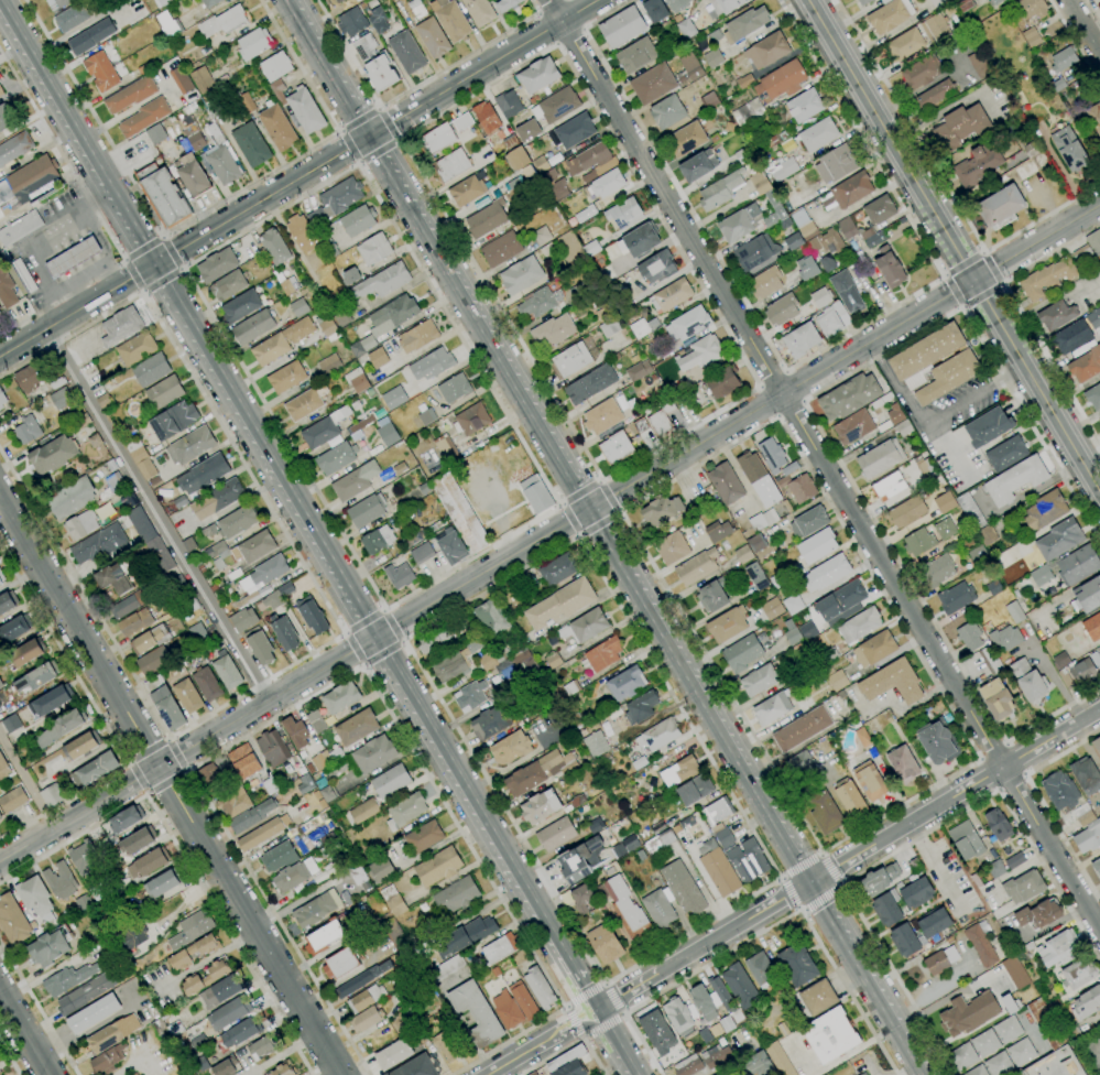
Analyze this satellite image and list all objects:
building: (339, 1)
building: (884, 1)
building: (162, 2)
building: (864, 2)
building: (936, 2)
building: (993, 2)
building: (57, 3)
building: (210, 3)
building: (508, 4)
building: (677, 4)
building: (965, 4)
building: (134, 6)
road: (533, 6)
building: (727, 6)
road: (551, 7)
building: (417, 8)
building: (1033, 8)
building: (655, 10)
building: (479, 11)
road: (1092, 12)
road: (538, 13)
road: (573, 14)
building: (890, 15)
building: (72, 18)
building: (450, 20)
building: (378, 21)
building: (224, 22)
building: (352, 22)
road: (312, 24)
building: (745, 24)
building: (168, 25)
road: (1083, 25)
building: (622, 26)
road: (548, 28)
building: (686, 29)
building: (935, 29)
road: (582, 30)
building: (958, 30)
building: (716, 35)
building: (92, 36)
road: (569, 36)
building: (433, 37)
building: (1032, 37)
building: (253, 43)
road: (1074, 43)
road: (557, 44)
building: (905, 44)
building: (767, 51)
building: (407, 52)
building: (636, 55)
building: (714, 57)
building: (1064, 58)
road: (325, 59)
building: (980, 64)
building: (374, 65)
building: (690, 65)
building: (275, 66)
building: (146, 67)
road: (322, 68)
road: (481, 68)
building: (101, 72)
building: (922, 72)
building: (537, 75)
road: (44, 76)
road: (350, 76)
building: (181, 79)
building: (203, 79)
building: (781, 80)
building: (745, 82)
road: (35, 84)
building: (653, 84)
building: (1058, 85)
building: (1, 91)
road: (404, 93)
building: (131, 95)
building: (934, 95)
building: (709, 100)
building: (247, 102)
building: (508, 104)
building: (215, 106)
building: (301, 106)
building: (556, 106)
building: (804, 106)
building: (189, 108)
road: (378, 109)
building: (748, 111)
building: (667, 112)
building: (1094, 116)
road: (94, 117)
building: (144, 117)
building: (6, 118)
building: (487, 118)
road: (358, 120)
building: (462, 122)
road: (385, 124)
building: (277, 127)
building: (960, 127)
traffic signals: (380, 128)
road: (381, 129)
building: (575, 130)
building: (190, 131)
road: (339, 131)
building: (156, 134)
building: (818, 134)
traffic signals: (363, 137)
building: (715, 138)
building: (437, 139)
building: (687, 139)
building: (775, 139)
road: (397, 140)
building: (511, 142)
building: (251, 144)
road: (315, 144)
road: (350, 145)
building: (1030, 146)
building: (14, 148)
road: (80, 148)
building: (1070, 149)
road: (377, 150)
building: (743, 154)
building: (520, 161)
road: (379, 162)
building: (224, 163)
road: (358, 163)
building: (590, 163)
building: (541, 164)
building: (836, 164)
building: (451, 165)
building: (698, 166)
building: (977, 166)
building: (785, 170)
road: (101, 172)
building: (192, 172)
road: (407, 174)
building: (548, 176)
building: (760, 183)
road: (944, 183)
building: (26, 184)
building: (608, 184)
building: (469, 189)
building: (557, 189)
building: (721, 189)
building: (851, 189)
road: (404, 193)
building: (342, 195)
building: (163, 196)
building: (793, 202)
building: (1001, 207)
road: (123, 209)
building: (880, 210)
building: (624, 213)
building: (586, 214)
building: (775, 216)
road: (97, 218)
building: (317, 218)
building: (488, 218)
building: (358, 220)
road: (110, 224)
building: (740, 224)
building: (785, 224)
building: (804, 225)
building: (20, 228)
building: (848, 228)
building: (302, 234)
building: (867, 234)
building: (542, 235)
road: (162, 236)
building: (875, 239)
building: (640, 240)
building: (794, 241)
building: (831, 241)
building: (1093, 241)
road: (43, 243)
road: (144, 243)
building: (328, 243)
road: (182, 246)
building: (813, 246)
road: (955, 246)
building: (274, 247)
road: (143, 248)
building: (373, 249)
building: (501, 249)
building: (591, 249)
building: (755, 252)
road: (982, 252)
road: (171, 253)
building: (1082, 254)
building: (73, 258)
gas station: (73, 258)
road: (123, 259)
traffic signals: (154, 262)
building: (827, 263)
building: (259, 264)
road: (962, 264)
building: (217, 265)
building: (657, 267)
building: (807, 268)
building: (890, 268)
road: (989, 268)
road: (181, 269)
road: (139, 271)
traffic signals: (140, 272)
road: (132, 274)
road: (943, 274)
building: (22, 275)
building: (522, 275)
building: (350, 276)
building: (1047, 278)
road: (161, 279)
traffic signals: (976, 280)
building: (382, 281)
street lamp: (90, 282)
building: (765, 282)
road: (1001, 283)
building: (228, 285)
building: (286, 287)
building: (6, 290)
road: (954, 290)
road: (142, 291)
building: (577, 292)
building: (847, 292)
road: (981, 293)
building: (671, 295)
building: (821, 297)
building: (538, 302)
building: (240, 306)
road: (962, 306)
building: (299, 307)
building: (782, 310)
building: (643, 312)
building: (0, 314)
building: (393, 315)
building: (601, 315)
road: (1022, 315)
building: (1056, 315)
road: (484, 316)
building: (342, 317)
building: (1094, 318)
building: (831, 319)
building: (688, 324)
building: (326, 325)
building: (121, 326)
building: (254, 327)
building: (610, 327)
building: (643, 327)
road: (172, 328)
building: (553, 332)
building: (334, 336)
building: (418, 336)
building: (1070, 337)
building: (801, 340)
building: (282, 341)
building: (362, 346)
building: (137, 348)
road: (489, 350)
building: (664, 350)
road: (202, 351)
building: (701, 352)
road: (79, 354)
road: (806, 356)
building: (377, 358)
building: (571, 360)
building: (935, 363)
building: (329, 365)
building: (433, 365)
building: (1086, 365)
building: (151, 370)
road: (785, 370)
building: (638, 371)
building: (287, 377)
building: (29, 378)
road: (773, 379)
building: (357, 380)
building: (57, 382)
building: (723, 382)
road: (754, 383)
building: (591, 384)
road: (758, 386)
road: (792, 387)
building: (454, 388)
building: (164, 392)
building: (849, 397)
building: (1093, 397)
building: (394, 398)
building: (61, 399)
building: (104, 399)
building: (2, 400)
road: (769, 400)
road: (802, 401)
building: (881, 401)
building: (306, 402)
building: (356, 405)
road: (788, 406)
building: (895, 414)
road: (777, 415)
building: (427, 416)
building: (602, 416)
building: (662, 419)
building: (471, 420)
building: (83, 421)
building: (173, 421)
road: (738, 421)
road: (933, 421)
road: (815, 422)
building: (1099, 422)
building: (361, 424)
building: (640, 425)
building: (884, 426)
building: (853, 427)
building: (988, 427)
building: (904, 428)
building: (26, 430)
building: (322, 431)
building: (126, 432)
road: (255, 432)
building: (388, 434)
building: (95, 441)
building: (190, 445)
road: (553, 445)
building: (445, 446)
building: (617, 447)
building: (137, 450)
building: (1006, 454)
building: (53, 455)
road: (574, 455)
building: (772, 455)
building: (336, 458)
building: (880, 458)
road: (262, 465)
road: (825, 465)
building: (112, 466)
building: (926, 468)
building: (146, 469)
building: (400, 469)
building: (203, 474)
building: (759, 479)
building: (1016, 479)
road: (600, 480)
building: (356, 481)
building: (726, 484)
building: (797, 484)
building: (111, 486)
building: (889, 487)
building: (424, 488)
road: (580, 492)
building: (536, 495)
road: (607, 497)
building: (70, 498)
building: (217, 499)
road: (1, 500)
road: (601, 500)
building: (129, 501)
building: (181, 501)
traffic signals: (602, 501)
building: (945, 502)
road: (558, 503)
road: (560, 503)
building: (367, 510)
building: (662, 510)
building: (1045, 510)
building: (907, 511)
building: (970, 511)
building: (459, 512)
traffic signals: (586, 512)
road: (617, 512)
road: (154, 515)
road: (570, 519)
building: (763, 520)
building: (238, 521)
road: (598, 522)
building: (809, 522)
building: (81, 523)
building: (141, 524)
building: (436, 526)
building: (945, 529)
road: (596, 530)
building: (209, 531)
building: (718, 531)
road: (580, 534)
building: (987, 535)
building: (414, 537)
building: (1059, 539)
building: (378, 540)
building: (918, 542)
building: (756, 543)
building: (100, 544)
building: (188, 544)
building: (451, 546)
building: (817, 546)
building: (672, 547)
building: (215, 549)
road: (630, 549)
building: (249, 550)
building: (161, 554)
building: (196, 554)
building: (422, 554)
building: (743, 554)
building: (979, 555)
building: (697, 566)
building: (1069, 567)
building: (269, 569)
road: (330, 569)
building: (558, 569)
building: (938, 571)
building: (796, 572)
building: (233, 574)
road: (630, 574)
building: (826, 574)
building: (400, 575)
building: (756, 576)
building: (115, 577)
building: (1, 578)
building: (777, 580)
building: (181, 588)
building: (994, 588)
building: (286, 589)
building: (712, 596)
building: (1087, 596)
building: (956, 597)
road: (330, 598)
building: (249, 599)
building: (272, 599)
building: (8, 602)
building: (841, 602)
building: (129, 604)
building: (562, 604)
building: (792, 604)
building: (772, 608)
road: (382, 610)
building: (1015, 612)
building: (312, 616)
road: (628, 617)
building: (243, 620)
road: (335, 620)
road: (366, 620)
building: (135, 622)
road: (363, 622)
building: (728, 625)
building: (859, 625)
road: (390, 627)
building: (494, 627)
building: (585, 627)
building: (1092, 627)
building: (14, 629)
building: (807, 630)
building: (284, 632)
road: (344, 632)
building: (199, 634)
road: (353, 634)
building: (793, 636)
building: (969, 636)
traffic signals: (377, 637)
building: (150, 639)
building: (433, 639)
building: (1005, 639)
road: (401, 640)
road: (369, 641)
building: (259, 645)
traffic signals: (361, 645)
road: (355, 648)
building: (1099, 648)
building: (874, 649)
building: (26, 652)
road: (381, 652)
building: (742, 653)
road: (366, 655)
building: (828, 655)
building: (601, 656)
building: (1094, 659)
building: (553, 660)
building: (1060, 660)
building: (154, 661)
building: (487, 661)
building: (456, 663)
building: (520, 663)
road: (362, 665)
building: (227, 671)
building: (798, 673)
building: (1078, 673)
building: (37, 677)
building: (759, 680)
building: (837, 680)
building: (1030, 681)
building: (892, 682)
building: (625, 683)
building: (1, 684)
building: (208, 684)
building: (995, 686)
building: (571, 687)
road: (385, 689)
road: (691, 691)
building: (470, 695)
road: (709, 695)
building: (188, 696)
building: (341, 697)
road: (407, 699)
building: (50, 702)
building: (165, 704)
building: (641, 707)
building: (772, 708)
road: (101, 719)
building: (316, 721)
road: (1077, 721)
building: (491, 723)
building: (11, 724)
building: (357, 727)
building: (61, 728)
building: (802, 729)
building: (296, 732)
building: (657, 735)
building: (863, 737)
road: (167, 739)
building: (938, 741)
road: (1005, 742)
building: (596, 743)
building: (81, 745)
building: (1097, 745)
building: (273, 748)
building: (511, 748)
road: (148, 750)
road: (992, 751)
road: (179, 753)
building: (374, 753)
road: (174, 754)
building: (326, 758)
road: (977, 758)
road: (979, 759)
road: (1013, 759)
building: (244, 761)
road: (129, 762)
building: (640, 763)
building: (903, 763)
building: (801, 765)
road: (1002, 767)
building: (3, 768)
building: (95, 770)
road: (185, 770)
building: (679, 771)
building: (538, 772)
road: (988, 773)
road: (1024, 773)
road: (139, 775)
building: (1086, 775)
building: (211, 779)
road: (165, 780)
building: (231, 780)
road: (1010, 780)
building: (390, 781)
building: (870, 781)
road: (26, 783)
building: (322, 783)
road: (171, 785)
building: (271, 786)
building: (695, 790)
road: (996, 790)
building: (1060, 790)
road: (146, 792)
building: (328, 793)
building: (52, 796)
building: (1099, 796)
building: (850, 797)
building: (12, 800)
road: (1039, 801)
building: (233, 803)
road: (475, 803)
building: (541, 806)
building: (364, 811)
building: (405, 811)
building: (825, 813)
building: (1083, 815)
building: (0, 816)
building: (251, 816)
building: (126, 819)
road: (911, 821)
building: (711, 823)
road: (777, 824)
building: (999, 825)
road: (476, 826)
building: (595, 826)
building: (657, 827)
road: (797, 830)
building: (263, 833)
building: (556, 834)
road: (227, 837)
building: (423, 837)
building: (1088, 837)
building: (139, 840)
building: (966, 840)
building: (630, 843)
building: (660, 843)
road: (907, 843)
building: (618, 850)
road: (65, 853)
building: (324, 853)
road: (820, 854)
building: (279, 857)
building: (85, 858)
road: (791, 858)
road: (64, 859)
building: (580, 860)
building: (748, 860)
building: (1015, 860)
road: (30, 861)
building: (151, 861)
road: (185, 861)
road: (839, 864)
building: (914, 865)
road: (801, 866)
building: (438, 867)
building: (718, 868)
road: (827, 868)
building: (1096, 868)
building: (995, 869)
building: (380, 870)
road: (58, 871)
road: (54, 873)
road: (823, 873)
traffic signals: (823, 873)
road: (53, 875)
building: (325, 875)
building: (357, 875)
building: (294, 876)
building: (122, 878)
road: (780, 878)
building: (879, 880)
building: (977, 880)
building: (61, 881)
building: (162, 882)
road: (184, 883)
road: (837, 883)
traffic signals: (806, 884)
street lamp: (250, 887)
building: (1024, 887)
building: (683, 888)
road: (837, 889)
road: (495, 892)
building: (917, 892)
road: (788, 893)
building: (34, 895)
building: (456, 895)
road: (187, 898)
road: (554, 898)
building: (582, 898)
road: (819, 900)
building: (84, 902)
road: (775, 902)
road: (817, 902)
road: (293, 903)
building: (377, 904)
building: (317, 909)
building: (625, 909)
building: (660, 909)
road: (797, 909)
building: (886, 910)
road: (803, 911)
building: (106, 913)
building: (1039, 914)
road: (849, 919)
building: (13, 920)
building: (935, 923)
building: (190, 927)
building: (41, 932)
building: (131, 935)
building: (395, 935)
building: (466, 936)
building: (324, 937)
building: (904, 941)
building: (605, 943)
road: (848, 943)
road: (552, 944)
road: (700, 946)
building: (981, 946)
building: (50, 947)
building: (500, 947)
building: (1059, 948)
building: (192, 951)
building: (1024, 951)
road: (217, 954)
road: (319, 954)
road: (355, 956)
building: (146, 958)
road: (357, 958)
road: (360, 960)
building: (940, 960)
building: (339, 963)
building: (798, 964)
building: (446, 968)
building: (760, 968)
road: (551, 970)
road: (318, 973)
building: (1015, 973)
building: (1079, 973)
road: (331, 975)
building: (205, 976)
road: (316, 978)
road: (862, 978)
building: (67, 979)
road: (333, 979)
building: (362, 979)
road: (680, 979)
road: (878, 982)
road: (164, 984)
road: (603, 984)
parking lot: (162, 985)
road: (331, 985)
building: (740, 986)
building: (540, 988)
road: (585, 989)
building: (219, 990)
building: (409, 990)
building: (89, 991)
road: (625, 991)
road: (848, 991)
road: (584, 995)
building: (722, 995)
building: (366, 998)
building: (818, 998)
road: (613, 999)
building: (523, 1000)
road: (266, 1001)
building: (703, 1002)
building: (1087, 1003)
building: (1011, 1005)
building: (1053, 1005)
road: (566, 1007)
road: (573, 1007)
road: (392, 1009)
traffic signals: (596, 1009)
road: (338, 1010)
building: (508, 1010)
road: (37, 1011)
road: (326, 1011)
building: (227, 1012)
building: (92, 1013)
building: (477, 1013)
road: (621, 1013)
building: (968, 1013)
road: (280, 1014)
building: (678, 1016)
building: (366, 1019)
traffic signals: (580, 1019)
road: (576, 1020)
road: (573, 1021)
building: (1047, 1023)
street lamp: (286, 1024)
road: (352, 1025)
road: (584, 1025)
traffic signals: (585, 1025)
road: (605, 1025)
building: (160, 1028)
building: (177, 1028)
road: (586, 1028)
road: (898, 1028)
road: (347, 1029)
building: (783, 1029)
building: (1008, 1030)
road: (24, 1032)
building: (238, 1032)
building: (657, 1032)
building: (1071, 1032)
building: (113, 1033)
building: (421, 1033)
road: (357, 1035)
building: (705, 1035)
building: (830, 1035)
road: (581, 1036)
road: (585, 1036)
road: (545, 1040)
building: (197, 1041)
road: (616, 1041)
building: (985, 1043)
building: (450, 1044)
road: (569, 1045)
building: (260, 1046)
building: (272, 1047)
building: (239, 1052)
building: (1021, 1052)
road: (1096, 1052)
road: (274, 1053)
road: (281, 1053)
building: (393, 1054)
road: (602, 1056)
road: (907, 1056)
building: (962, 1056)
road: (280, 1057)
building: (566, 1057)
road: (9, 1058)
building: (108, 1058)
building: (716, 1058)
building: (778, 1060)
road: (510, 1061)
building: (285, 1062)
building: (198, 1064)
building: (758, 1064)
building: (999, 1064)
parking lot: (246, 1065)
building: (224, 1066)
building: (418, 1066)
building: (1058, 1066)
building: (690, 1067)
road: (368, 1068)
building: (570, 1068)
building: (282, 1069)
road: (630, 1071)
building: (977, 1071)
building: (533, 1073)
building: (132, 1074)
building: (135, 1074)
building: (863, 1074)

